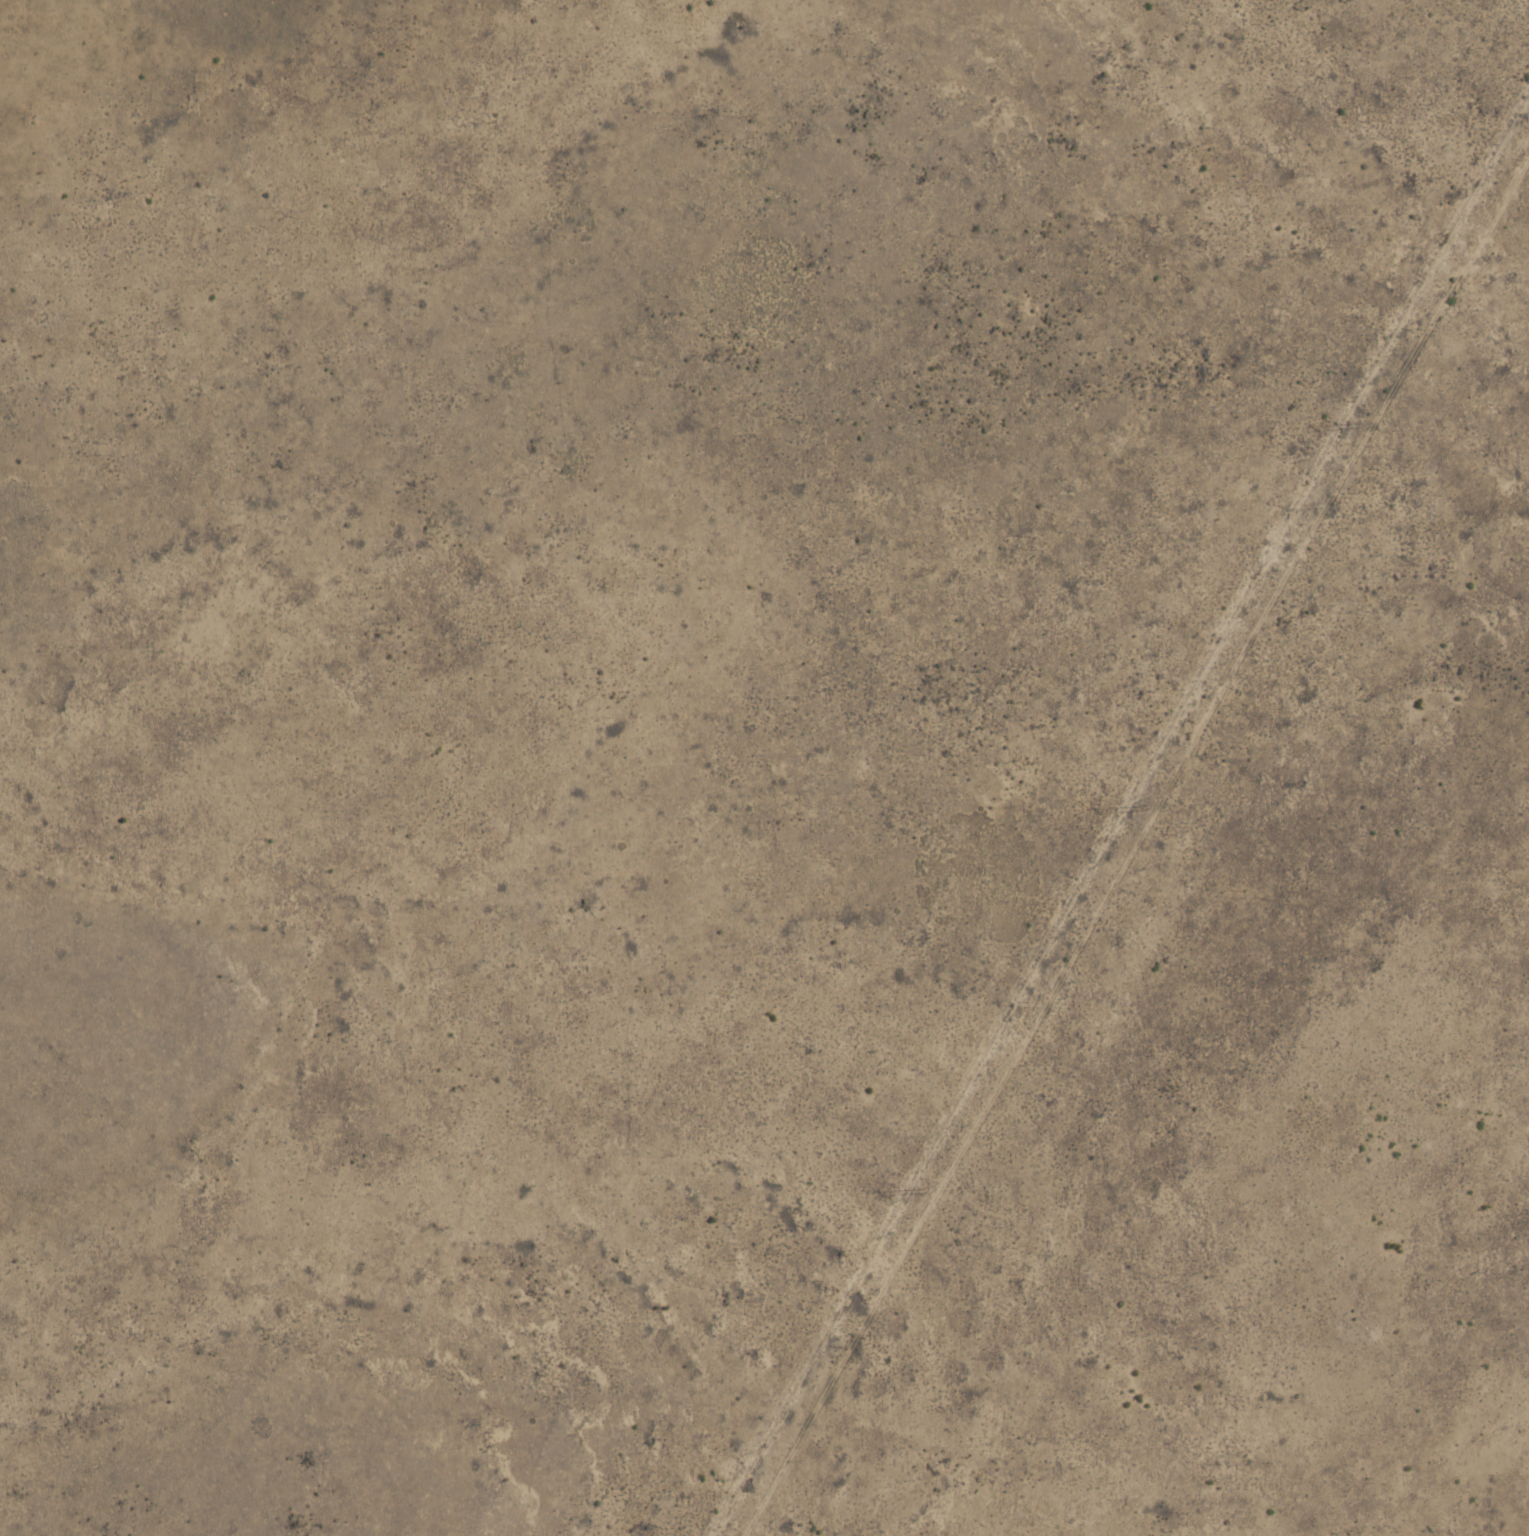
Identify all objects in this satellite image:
road: (1139, 848)

